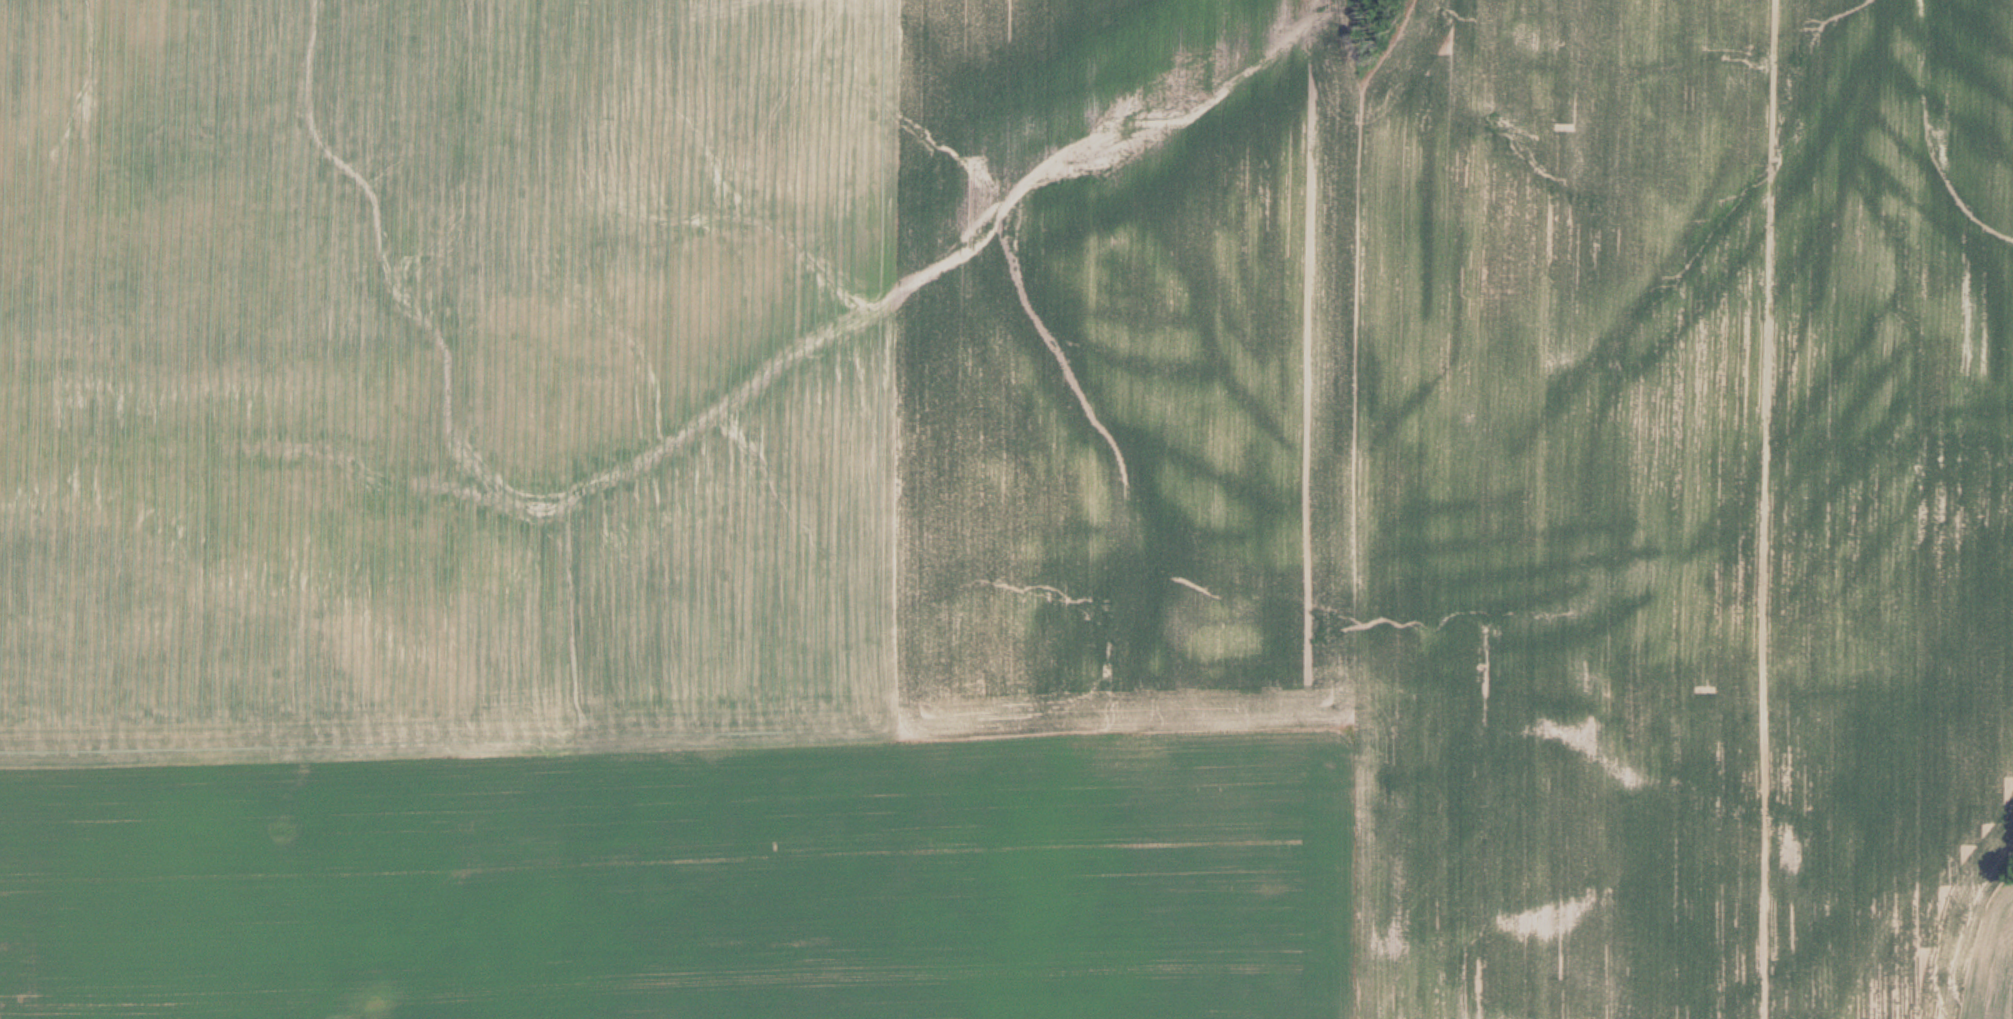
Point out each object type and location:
road: (1912, 1013)

